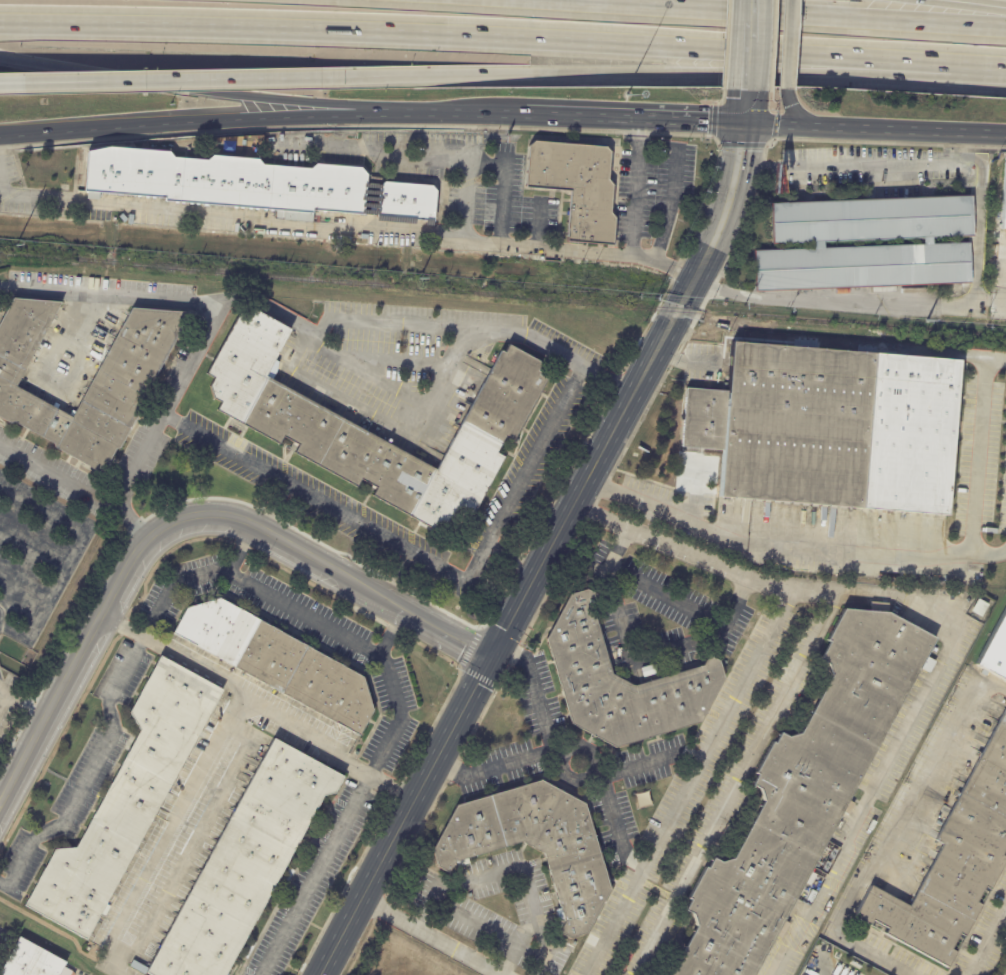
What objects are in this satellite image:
road: (969, 5)
road: (786, 16)
road: (473, 36)
road: (749, 44)
road: (788, 44)
road: (976, 68)
road: (690, 73)
road: (388, 76)
road: (171, 82)
road: (197, 89)
road: (745, 106)
road: (457, 113)
road: (797, 114)
road: (632, 118)
traffic signals: (745, 123)
road: (197, 124)
road: (875, 131)
road: (659, 144)
road: (468, 162)
road: (873, 164)
road: (755, 165)
building: (229, 181)
building: (578, 187)
building: (1003, 199)
road: (463, 201)
building: (408, 202)
road: (727, 207)
building: (123, 217)
road: (536, 221)
road: (344, 228)
road: (975, 231)
building: (864, 244)
road: (1005, 284)
railway: (502, 296)
road: (831, 298)
road: (990, 299)
road: (216, 307)
road: (270, 308)
road: (365, 320)
building: (140, 357)
road: (54, 389)
road: (354, 401)
building: (789, 423)
building: (332, 439)
road: (976, 462)
road: (589, 471)
road: (55, 475)
road: (129, 523)
road: (771, 546)
road: (140, 550)
road: (238, 550)
road: (421, 555)
road: (70, 562)
road: (666, 595)
building: (978, 607)
road: (309, 617)
road: (955, 618)
road: (390, 632)
road: (443, 632)
building: (995, 650)
traffic signals: (489, 658)
road: (639, 660)
building: (279, 663)
building: (647, 670)
building: (624, 684)
road: (533, 689)
road: (25, 697)
road: (5, 699)
road: (252, 710)
road: (574, 747)
road: (648, 760)
road: (90, 776)
road: (685, 781)
road: (733, 784)
building: (804, 795)
building: (129, 799)
road: (404, 816)
road: (890, 830)
building: (536, 843)
road: (172, 846)
building: (247, 865)
building: (952, 870)
road: (514, 871)
road: (313, 874)
road: (474, 922)
road: (431, 936)
road: (986, 938)
building: (34, 962)
building: (555, 967)

